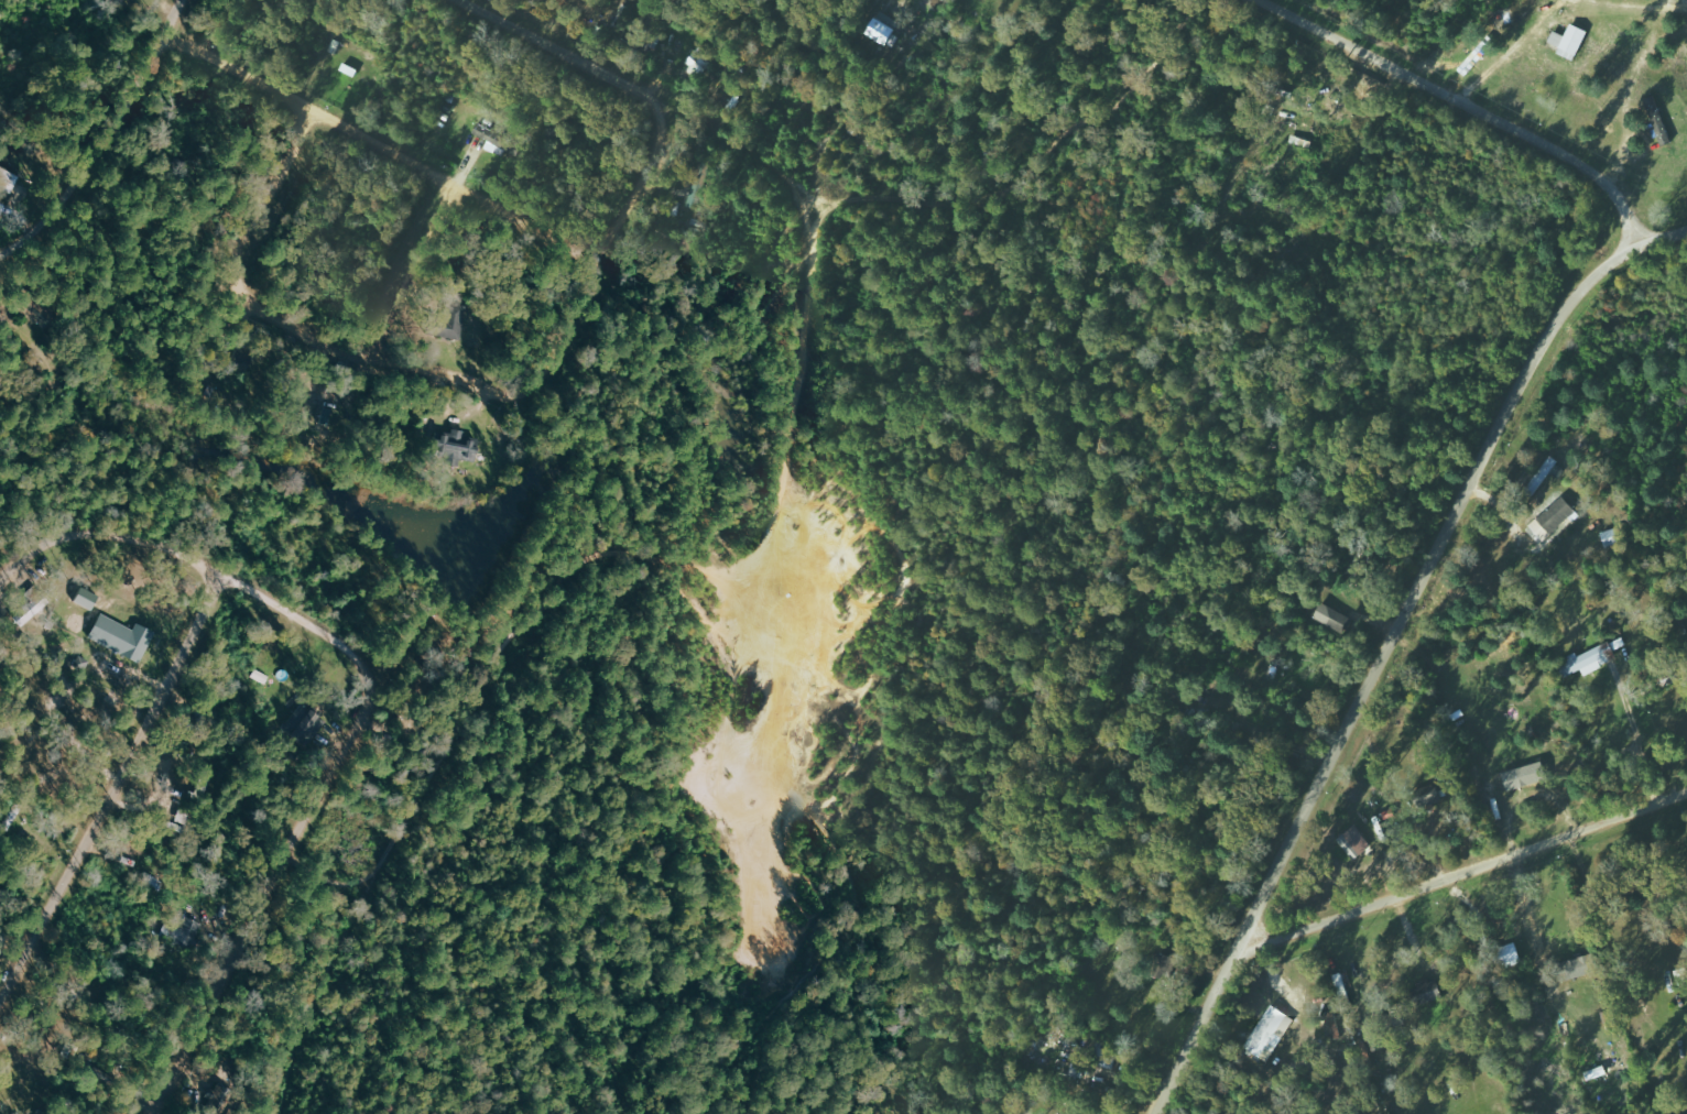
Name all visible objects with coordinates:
road: (173, 21)
building: (883, 29)
building: (1570, 42)
road: (557, 52)
building: (1476, 59)
building: (697, 64)
road: (238, 74)
road: (1463, 103)
building: (1658, 120)
building: (500, 138)
road: (763, 138)
road: (1051, 149)
road: (95, 162)
building: (8, 181)
road: (638, 185)
road: (451, 188)
building: (697, 194)
road: (266, 195)
road: (1662, 236)
road: (405, 270)
building: (34, 308)
building: (450, 321)
road: (445, 373)
building: (456, 447)
building: (1544, 473)
building: (1554, 517)
road: (22, 559)
building: (85, 599)
building: (29, 607)
road: (319, 633)
building: (120, 637)
building: (1593, 657)
road: (1379, 665)
building: (302, 720)
building: (1525, 776)
road: (112, 807)
building: (1379, 821)
building: (1353, 842)
road: (1463, 873)
road: (274, 895)
building: (182, 930)
building: (1578, 968)
building: (1341, 986)
building: (1429, 990)
building: (1266, 1034)

